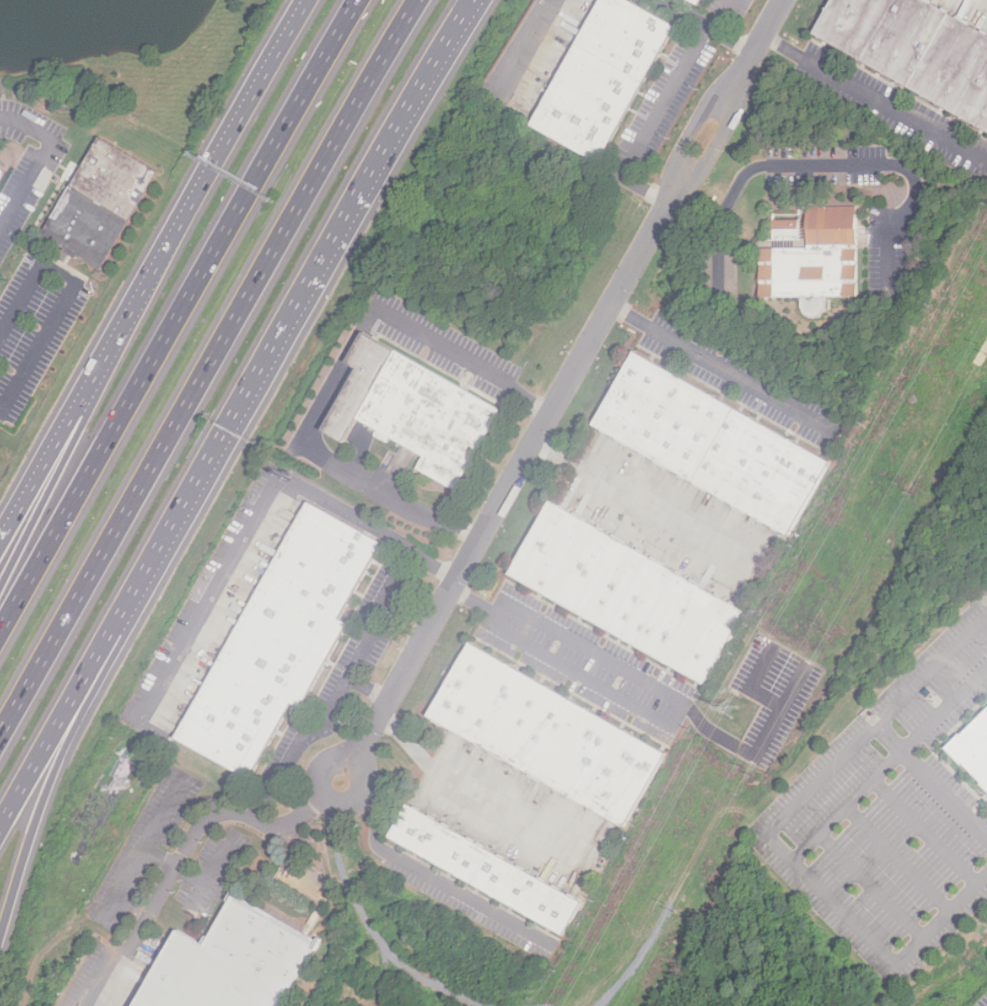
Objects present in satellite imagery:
building: (698, 2)
road: (723, 15)
road: (706, 25)
road: (535, 44)
building: (916, 50)
building: (604, 77)
road: (871, 96)
road: (651, 123)
road: (41, 160)
road: (210, 165)
road: (830, 165)
building: (1, 172)
building: (99, 199)
building: (787, 231)
building: (817, 262)
road: (719, 264)
road: (313, 272)
road: (66, 295)
road: (178, 312)
road: (206, 366)
road: (722, 369)
road: (337, 375)
road: (562, 391)
building: (414, 410)
road: (58, 435)
building: (712, 444)
road: (59, 458)
road: (638, 501)
road: (261, 521)
building: (628, 593)
road: (381, 617)
building: (282, 641)
road: (597, 656)
road: (934, 667)
road: (79, 685)
power tower: (727, 709)
road: (768, 720)
road: (957, 734)
road: (70, 735)
building: (548, 736)
road: (933, 749)
building: (975, 749)
road: (890, 759)
road: (475, 790)
road: (978, 807)
road: (775, 827)
road: (926, 829)
road: (185, 845)
road: (897, 857)
building: (486, 870)
road: (421, 871)
road: (870, 882)
building: (234, 963)

